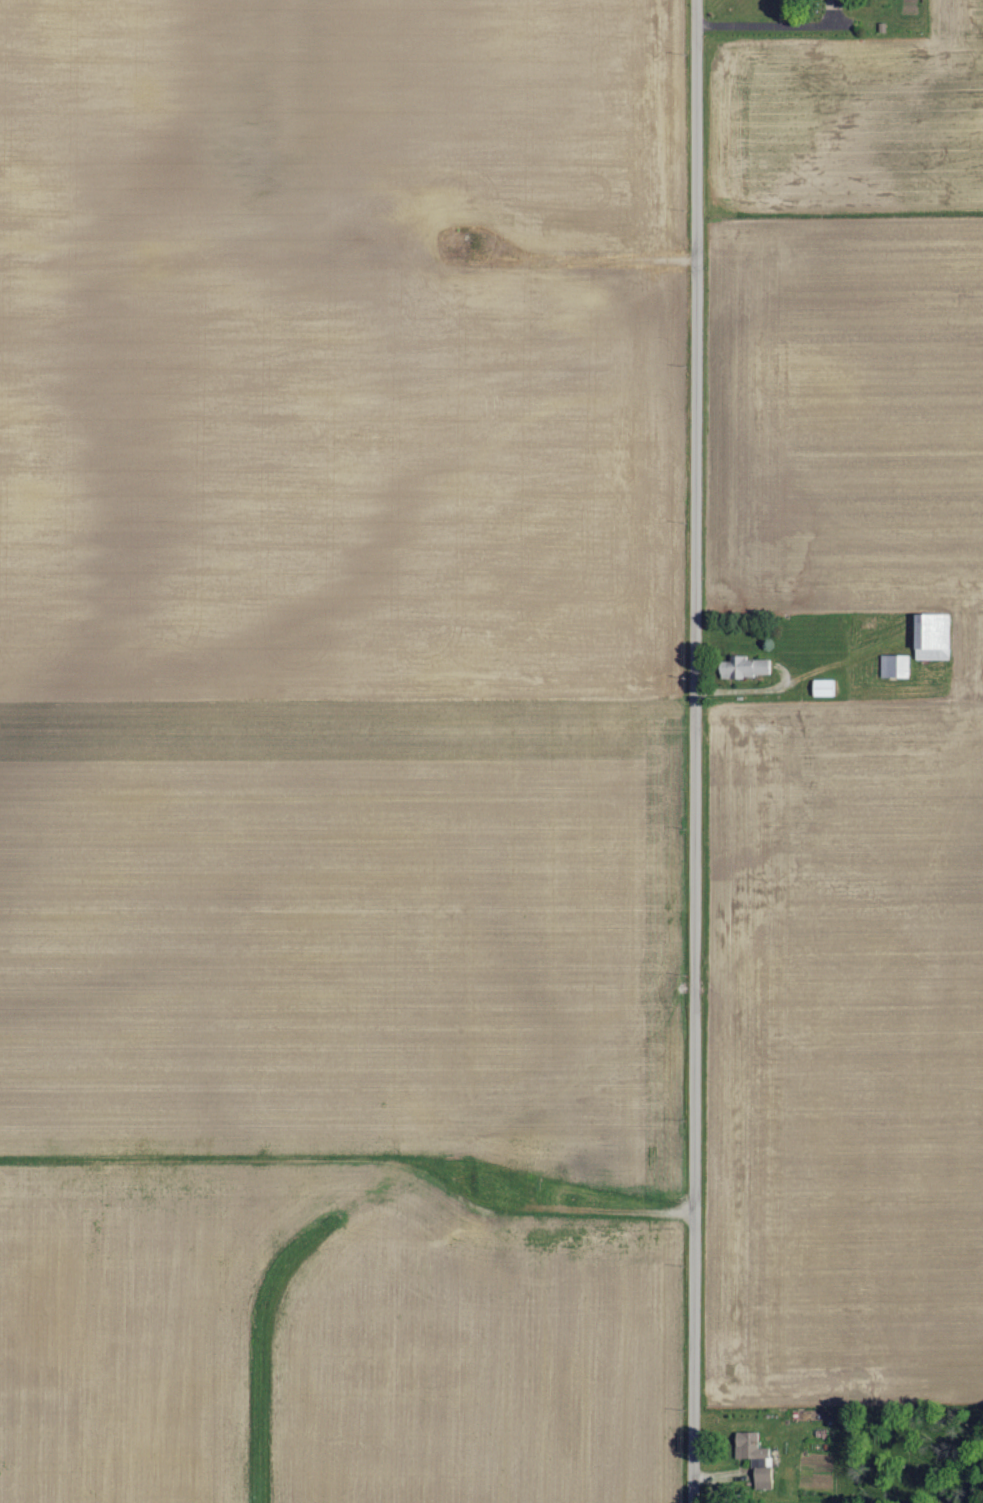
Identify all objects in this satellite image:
road: (699, 364)
building: (933, 631)
building: (895, 665)
building: (743, 667)
building: (824, 687)
crop: (845, 721)
road: (696, 1115)
building: (751, 1447)
building: (764, 1473)

